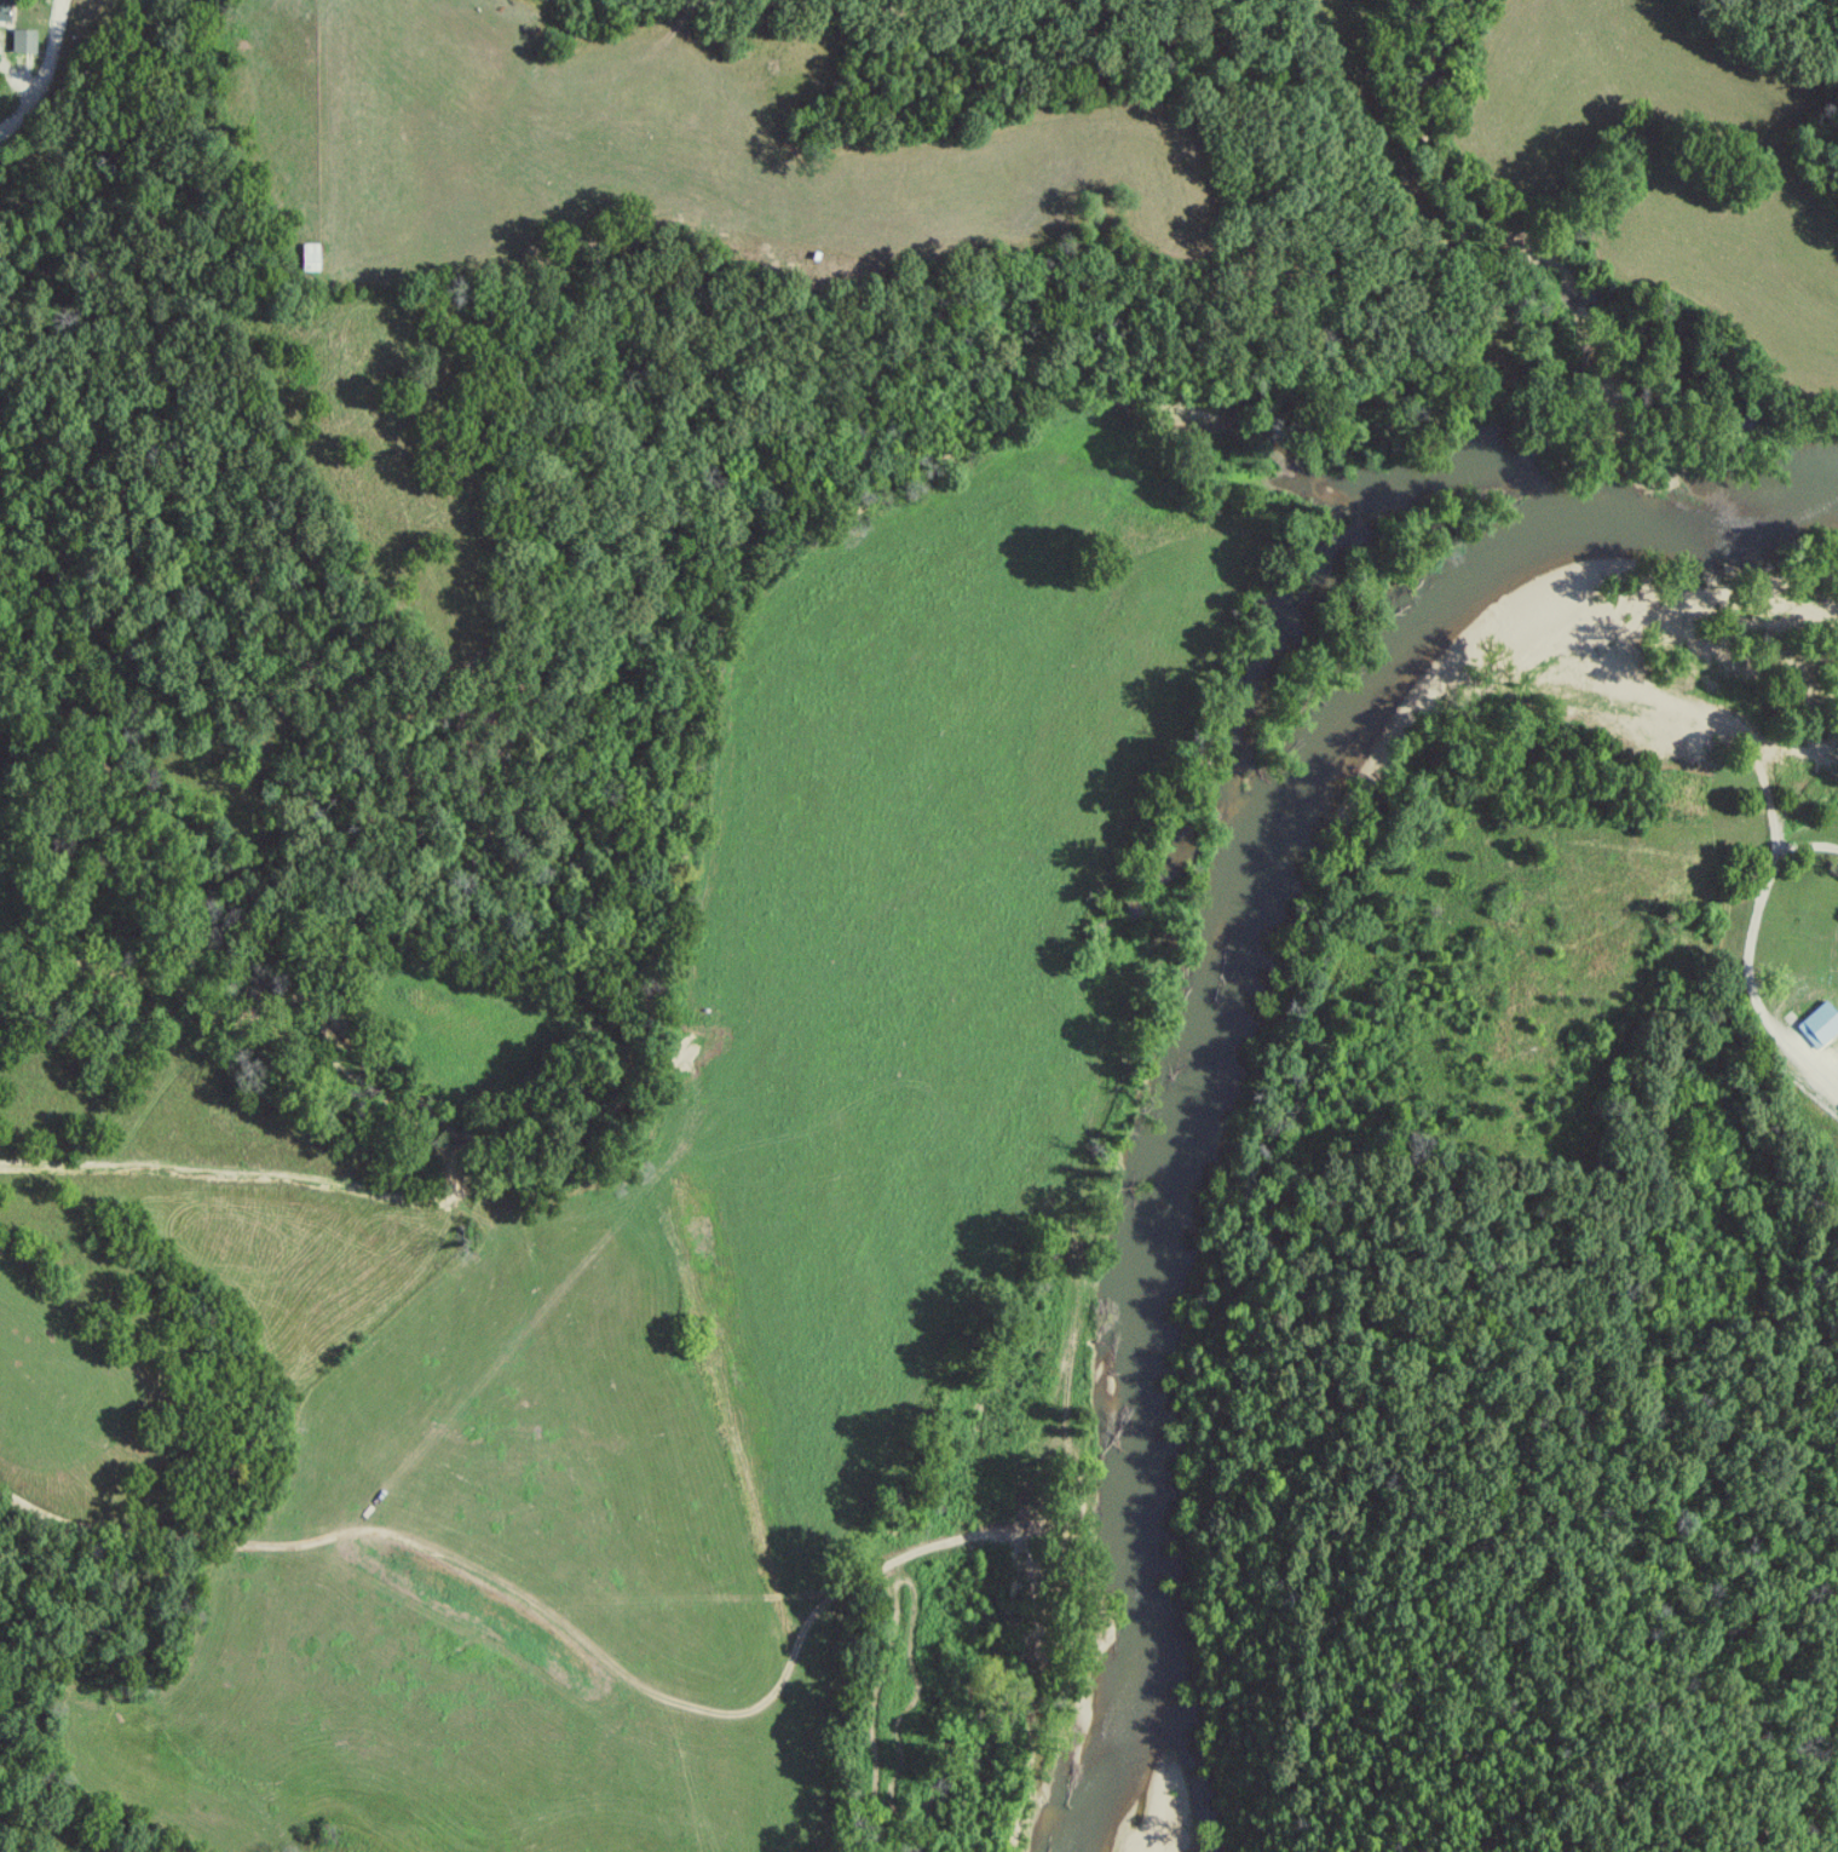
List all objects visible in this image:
road: (722, 1)
building: (5, 10)
building: (28, 40)
road: (27, 57)
road: (1771, 847)
river: (1216, 994)
building: (1815, 1024)

